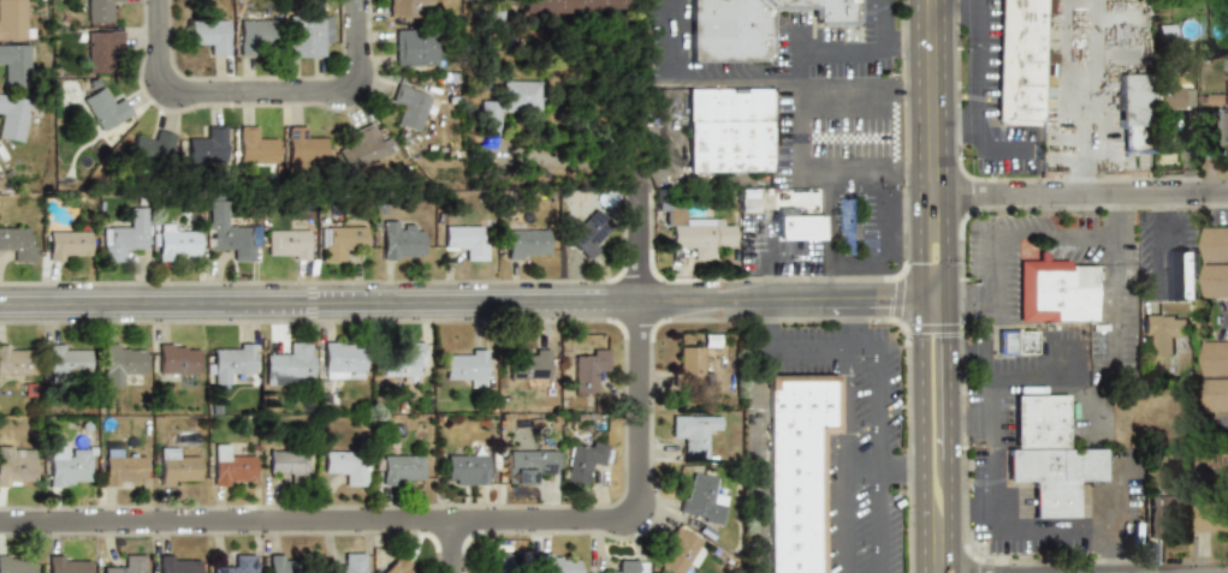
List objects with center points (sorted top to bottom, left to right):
building: (574, 7)
building: (408, 8)
building: (99, 10)
building: (12, 19)
road: (884, 20)
building: (748, 26)
building: (256, 32)
building: (209, 34)
building: (308, 35)
road: (907, 41)
building: (415, 47)
building: (100, 48)
road: (842, 52)
building: (1019, 61)
building: (13, 64)
road: (979, 68)
road: (694, 78)
road: (930, 83)
road: (261, 90)
road: (915, 91)
road: (849, 92)
building: (1175, 97)
road: (797, 102)
building: (506, 103)
road: (1098, 105)
building: (410, 107)
building: (102, 108)
building: (1134, 112)
building: (12, 117)
building: (1222, 129)
building: (729, 130)
building: (204, 145)
building: (254, 145)
building: (302, 147)
building: (364, 148)
building: (150, 149)
road: (566, 161)
road: (909, 169)
road: (844, 173)
road: (930, 181)
road: (1079, 197)
road: (1159, 203)
road: (924, 204)
road: (937, 204)
road: (1115, 217)
road: (890, 219)
building: (799, 227)
building: (843, 227)
building: (588, 232)
building: (231, 233)
building: (695, 234)
building: (121, 235)
road: (1051, 238)
building: (338, 240)
building: (465, 240)
building: (398, 241)
building: (524, 241)
building: (16, 243)
building: (174, 243)
building: (285, 244)
building: (1214, 244)
building: (66, 245)
road: (1159, 251)
road: (945, 253)
road: (918, 255)
road: (987, 267)
building: (1180, 275)
building: (1214, 281)
building: (1054, 291)
road: (932, 297)
road: (967, 297)
road: (882, 298)
road: (422, 302)
road: (1114, 305)
road: (947, 322)
road: (763, 324)
road: (846, 324)
road: (1214, 326)
building: (1162, 334)
building: (1015, 341)
road: (820, 350)
road: (973, 354)
building: (67, 358)
building: (177, 358)
building: (1214, 358)
building: (16, 359)
building: (343, 359)
building: (230, 360)
building: (402, 360)
building: (119, 362)
building: (291, 364)
building: (526, 365)
building: (465, 366)
building: (586, 368)
building: (689, 368)
road: (1030, 375)
building: (1215, 394)
road: (949, 404)
road: (969, 422)
road: (1215, 425)
building: (693, 434)
road: (921, 435)
road: (989, 441)
road: (1115, 447)
building: (1049, 455)
building: (581, 459)
road: (759, 461)
road: (847, 461)
road: (878, 461)
building: (286, 464)
building: (67, 465)
building: (345, 465)
building: (532, 465)
building: (16, 466)
building: (174, 467)
building: (230, 467)
building: (401, 467)
building: (796, 468)
building: (121, 470)
building: (465, 470)
road: (884, 470)
building: (701, 499)
road: (975, 508)
building: (1162, 514)
building: (1210, 517)
road: (949, 518)
road: (1003, 520)
road: (481, 524)
road: (1058, 531)
road: (447, 549)
building: (680, 551)
building: (557, 562)
building: (177, 563)
building: (348, 563)
building: (17, 565)
building: (67, 565)
building: (127, 565)
building: (239, 565)
building: (281, 565)
building: (397, 566)
building: (625, 566)
building: (497, 572)

